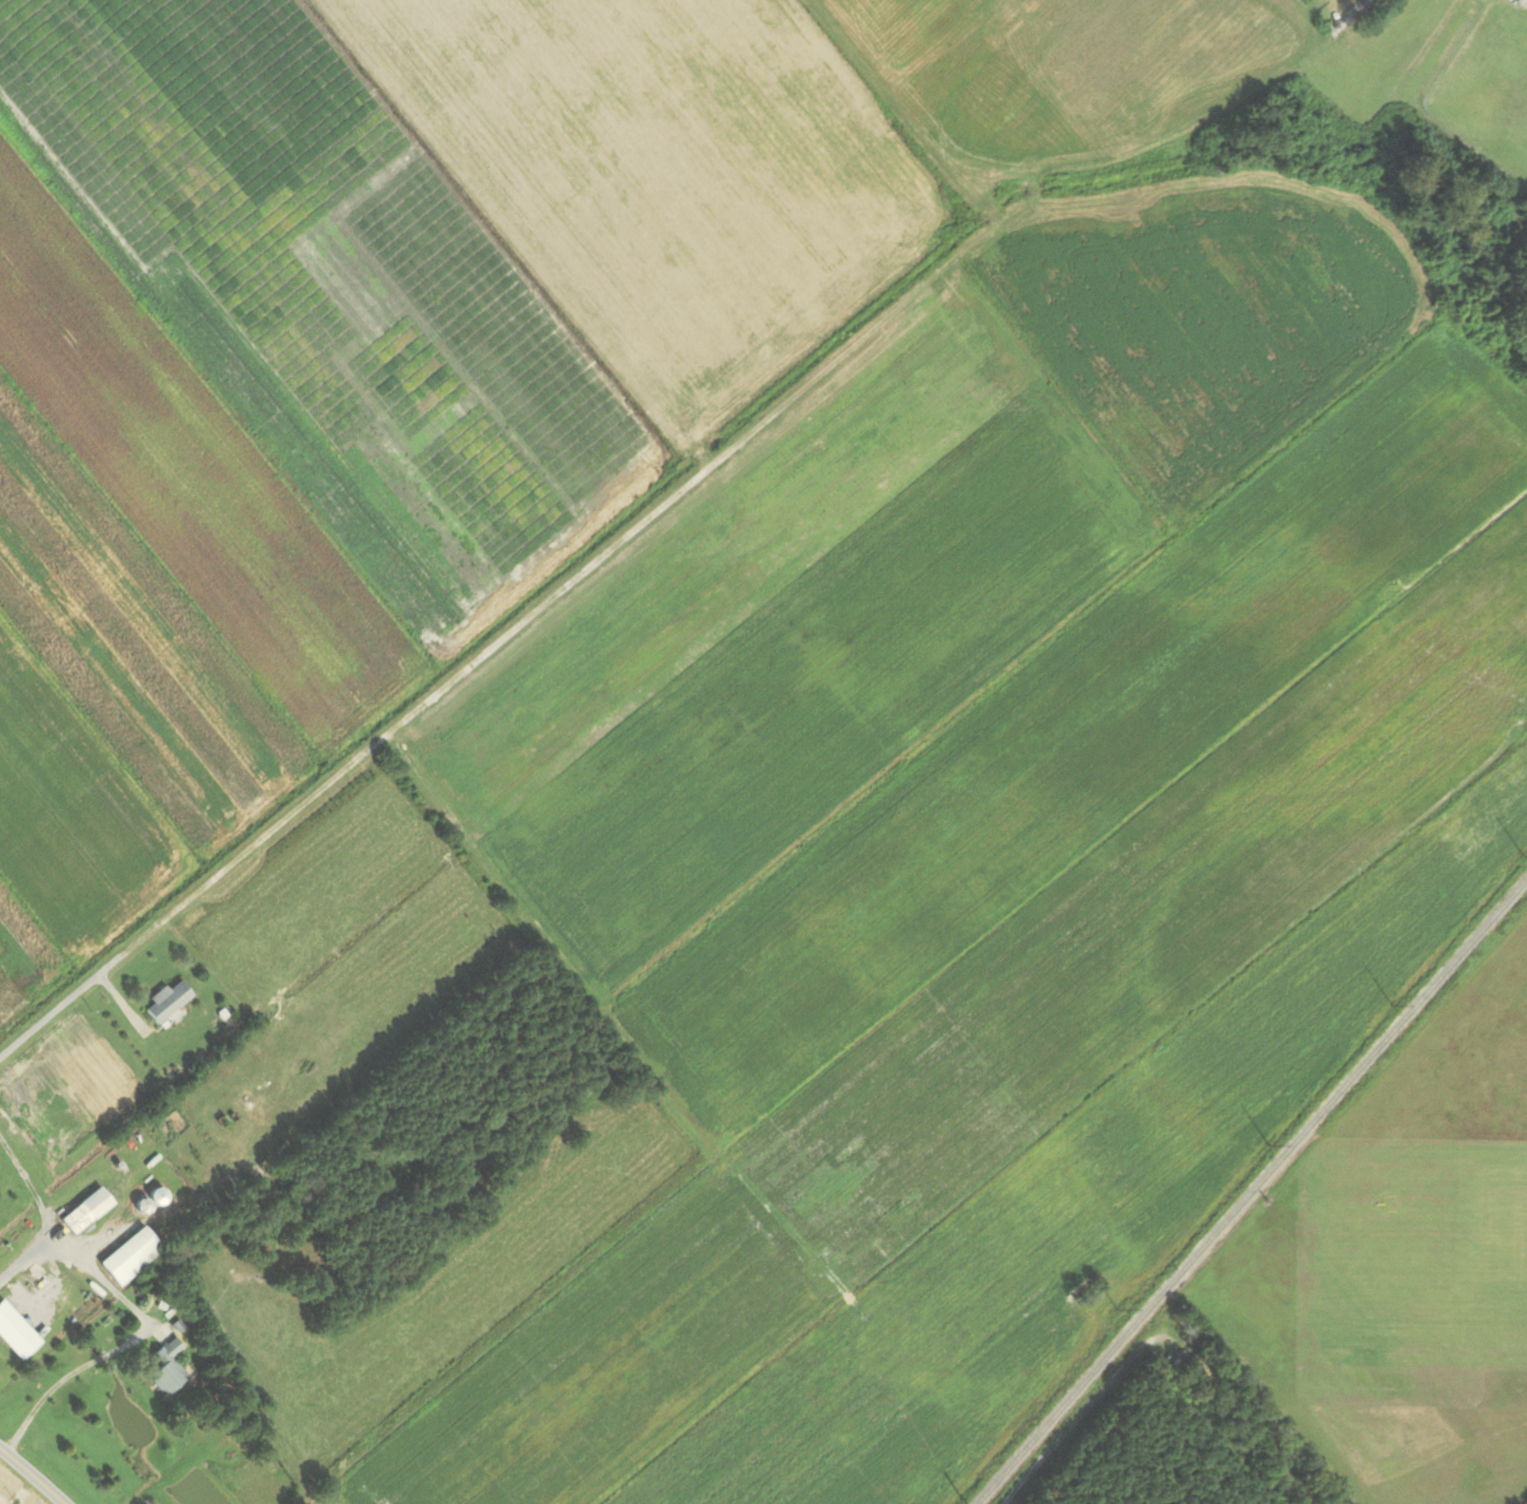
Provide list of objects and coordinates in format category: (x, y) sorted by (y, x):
power tower: (1524, 855)
road: (67, 997)
building: (168, 1003)
power tower: (1392, 1004)
power tower: (1270, 1145)
road: (30, 1190)
railway: (1252, 1191)
building: (156, 1197)
building: (85, 1212)
building: (130, 1257)
power tower: (1118, 1309)
road: (141, 1330)
building: (167, 1368)
road: (27, 1480)

